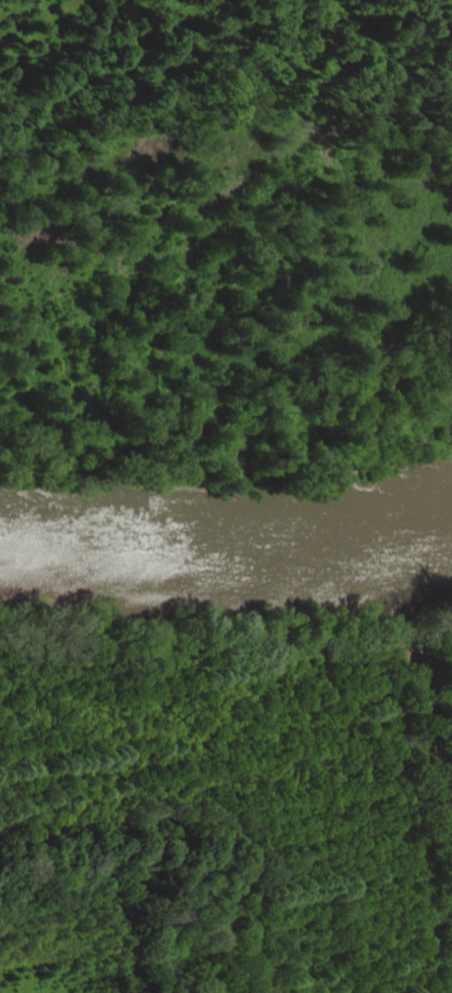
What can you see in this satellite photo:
river: (227, 541)

